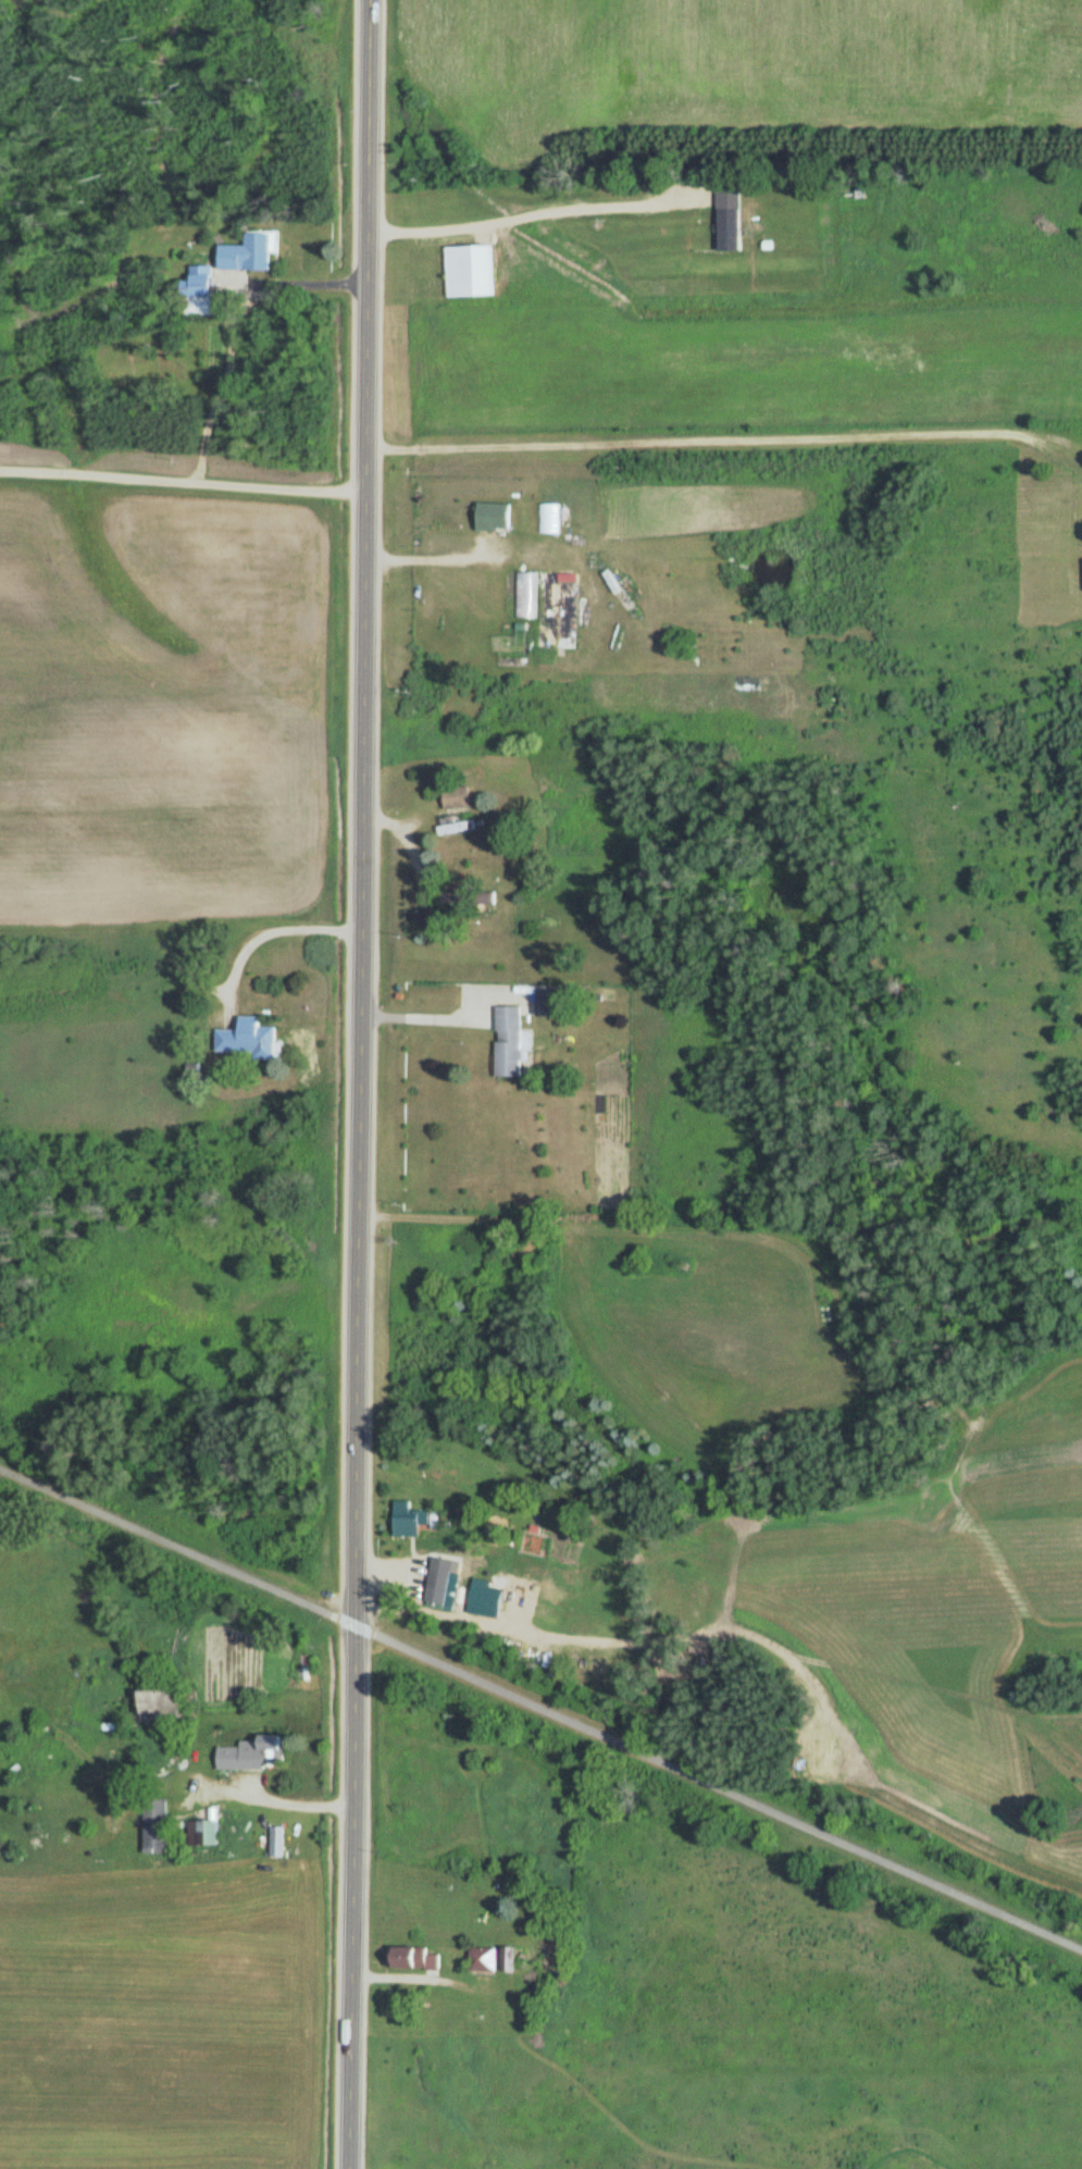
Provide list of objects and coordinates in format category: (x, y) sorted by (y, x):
building: (733, 220)
building: (250, 253)
building: (204, 290)
road: (183, 475)
building: (497, 517)
building: (548, 518)
building: (525, 594)
building: (560, 610)
building: (459, 797)
building: (458, 827)
building: (457, 897)
building: (552, 1003)
building: (249, 1040)
building: (512, 1041)
road: (360, 1084)
building: (409, 1520)
building: (443, 1583)
building: (167, 1707)
road: (542, 1707)
building: (254, 1756)
building: (159, 1833)
building: (207, 1834)
building: (420, 1956)
building: (485, 1959)

